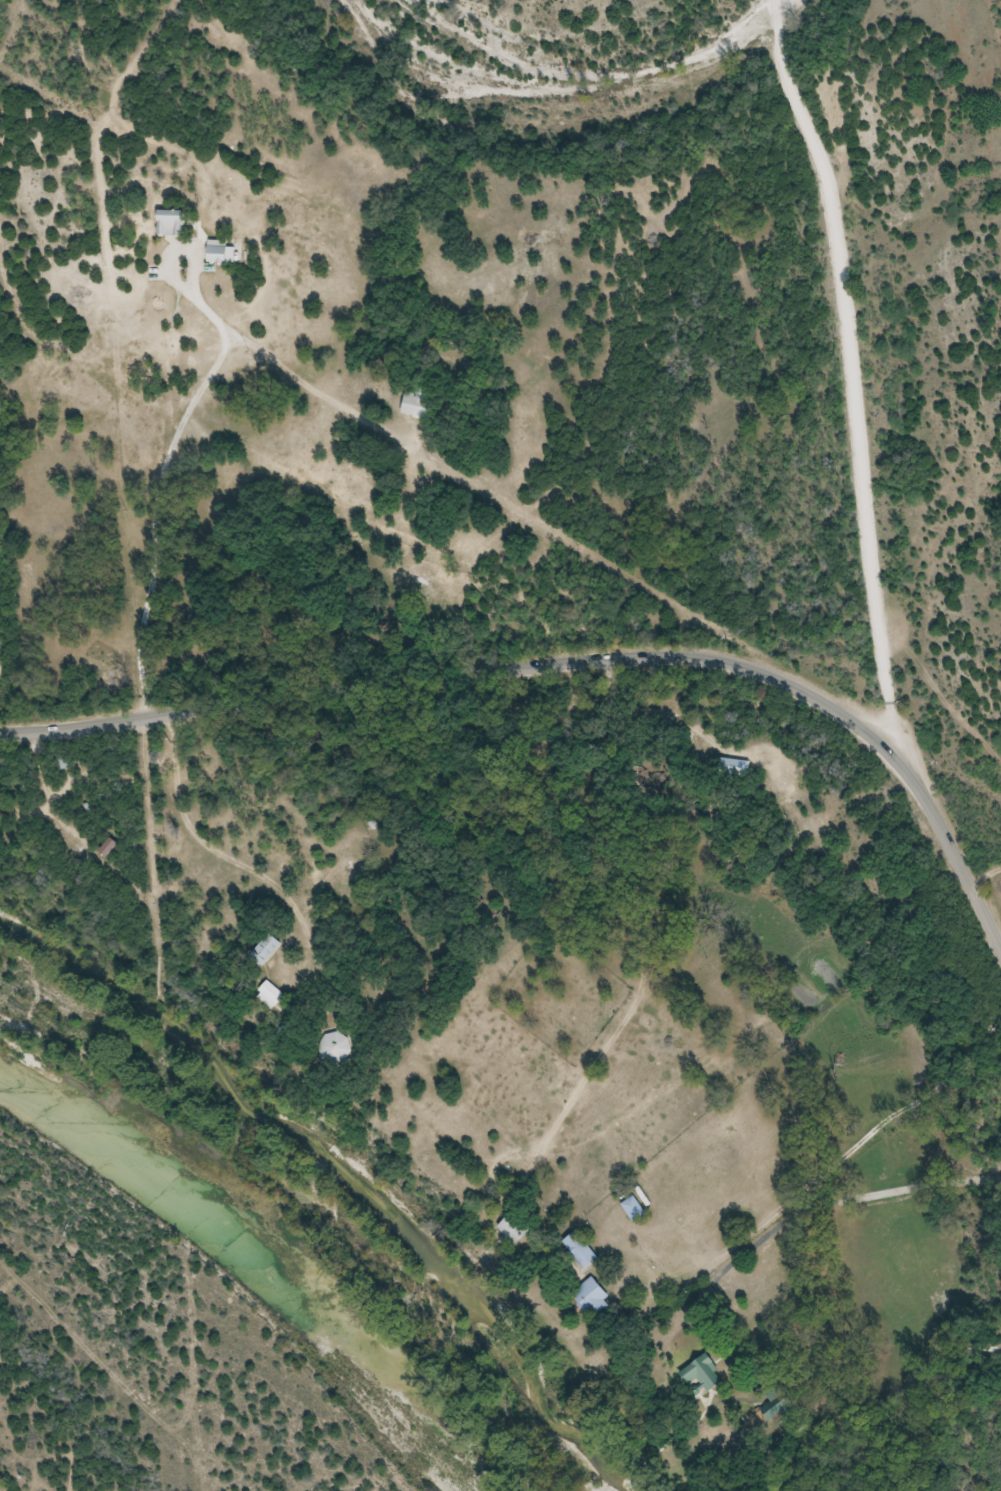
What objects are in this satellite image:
building: (172, 224)
road: (857, 378)
building: (421, 403)
road: (562, 663)
road: (990, 879)
building: (266, 948)
building: (269, 992)
building: (335, 1047)
building: (634, 1209)
building: (515, 1230)
building: (580, 1250)
river: (262, 1252)
building: (592, 1296)
building: (705, 1374)
building: (776, 1401)

